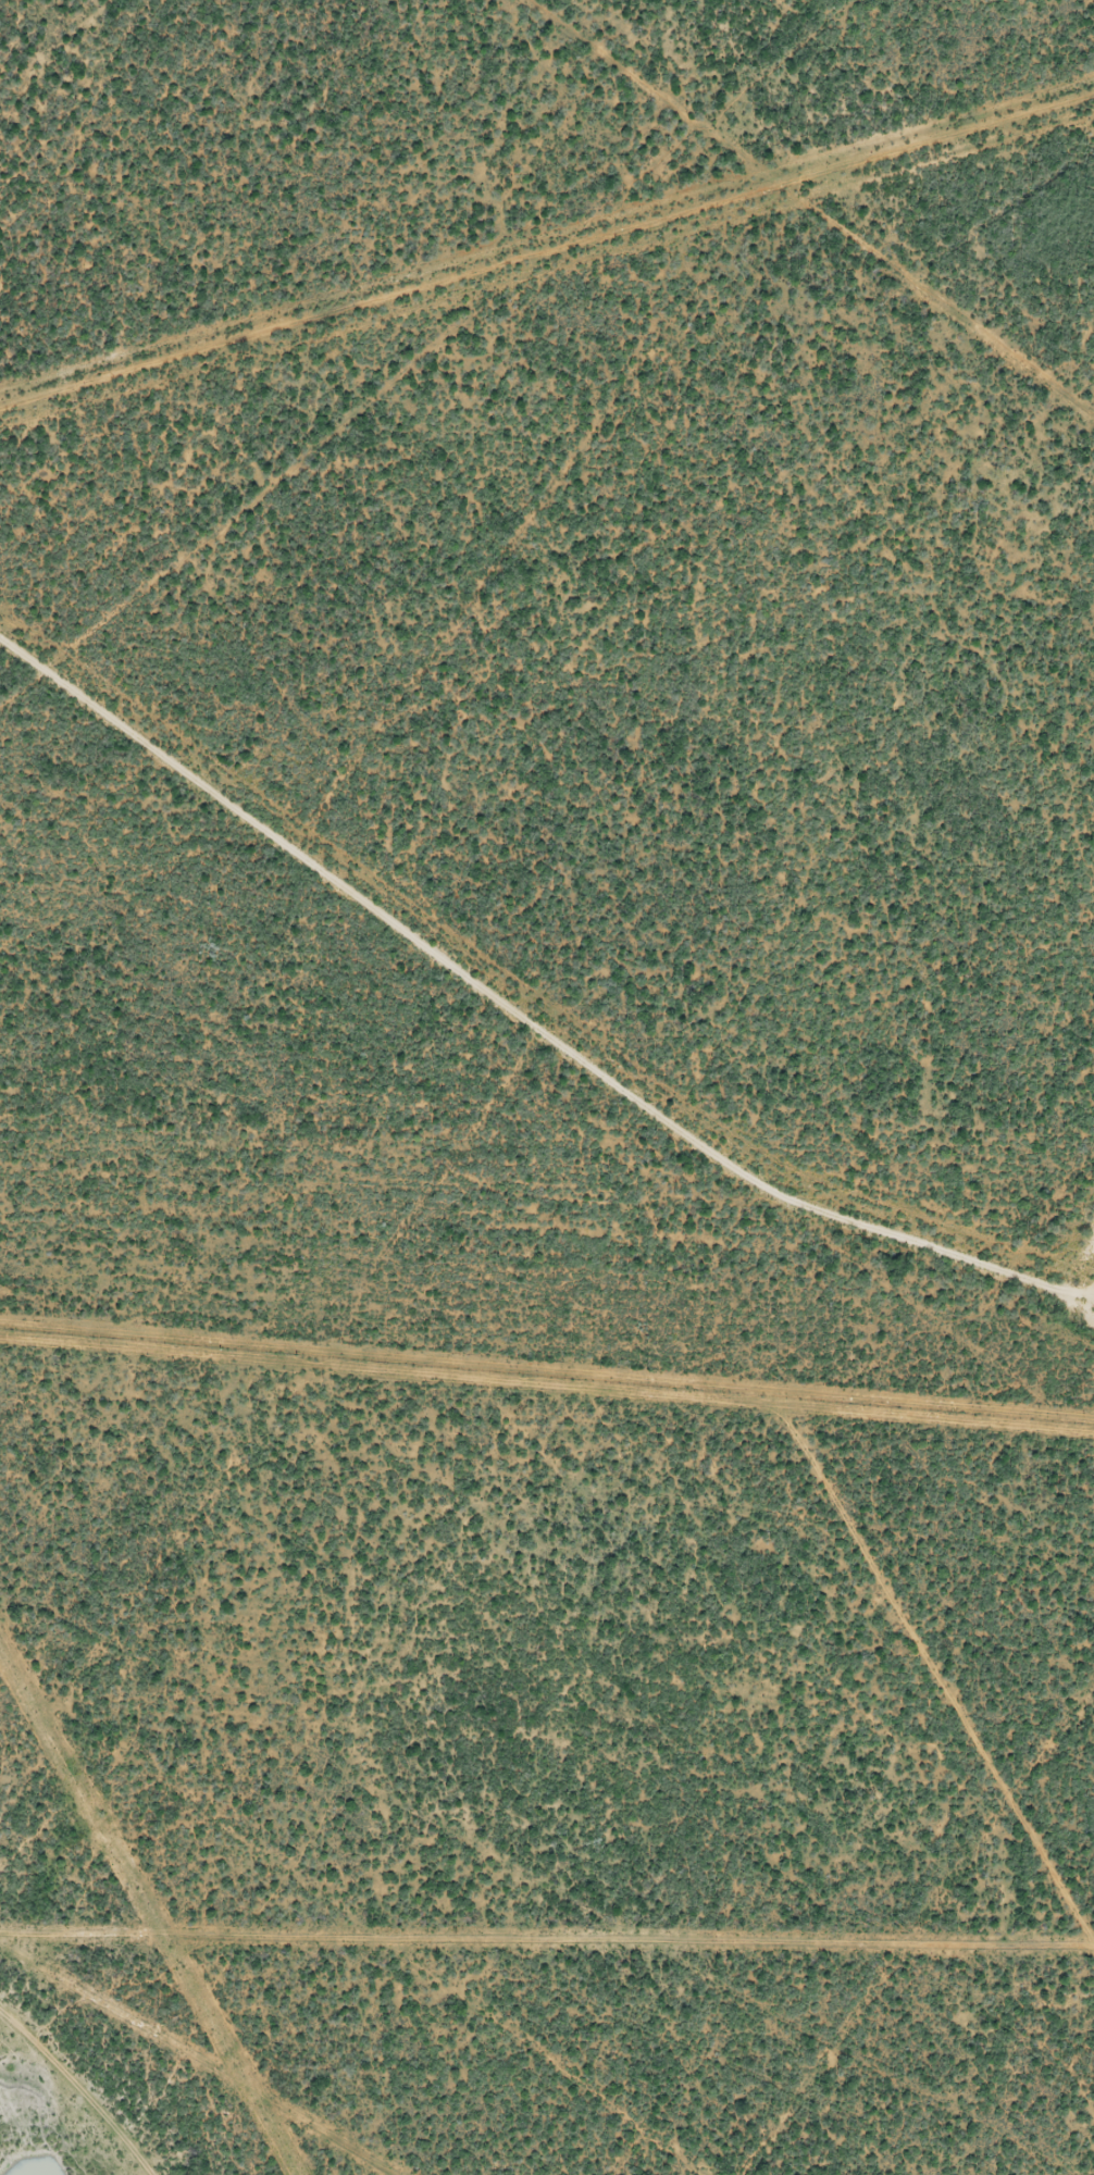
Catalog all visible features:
road: (50, 2118)

